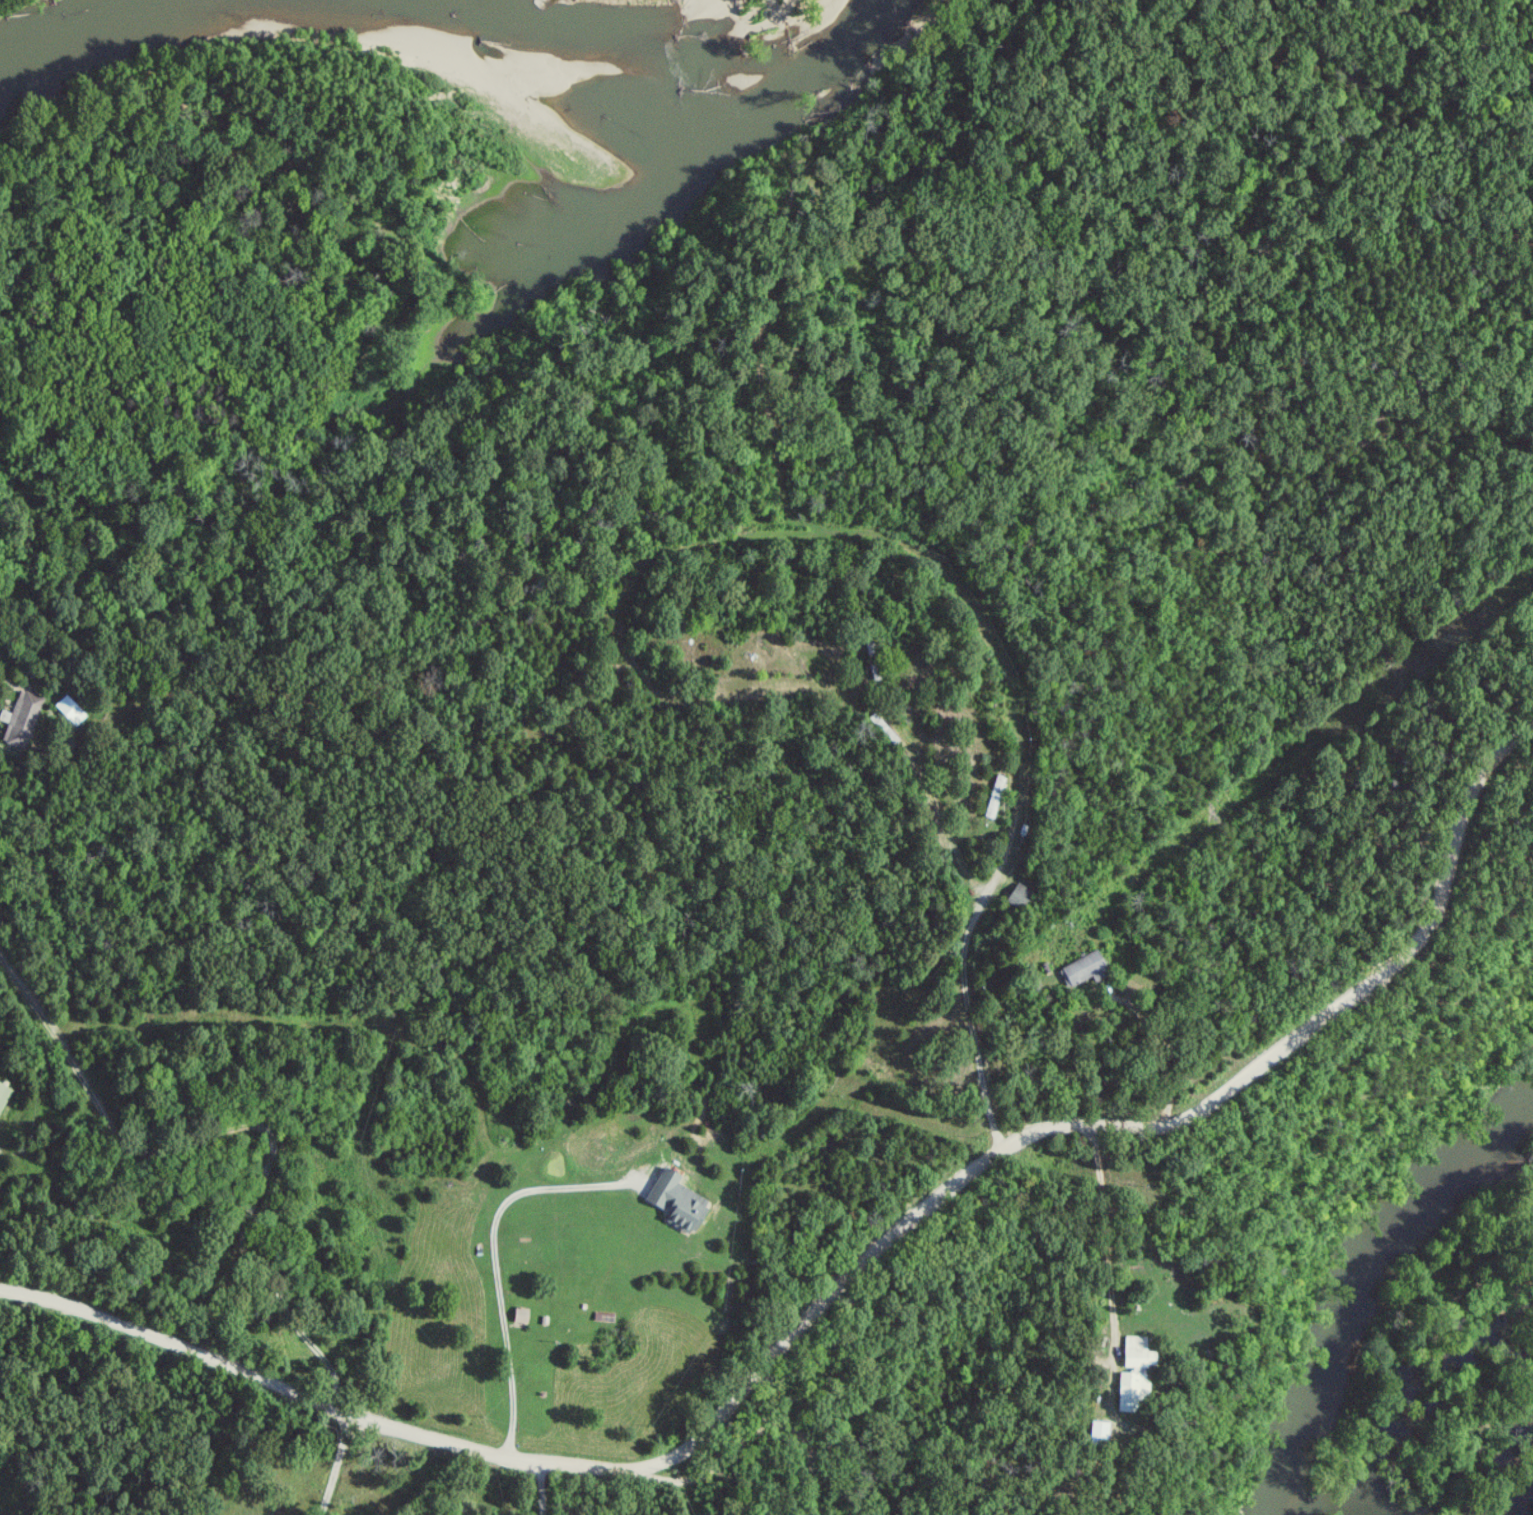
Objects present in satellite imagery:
river: (441, 42)
building: (23, 719)
road: (603, 839)
building: (1023, 897)
building: (1087, 970)
building: (5, 1096)
road: (238, 1125)
building: (681, 1201)
road: (1105, 1246)
road: (493, 1260)
river: (1355, 1264)
road: (842, 1283)
building: (525, 1316)
building: (1140, 1373)
road: (333, 1465)
road: (537, 1488)
road: (634, 1491)
road: (807, 1501)

